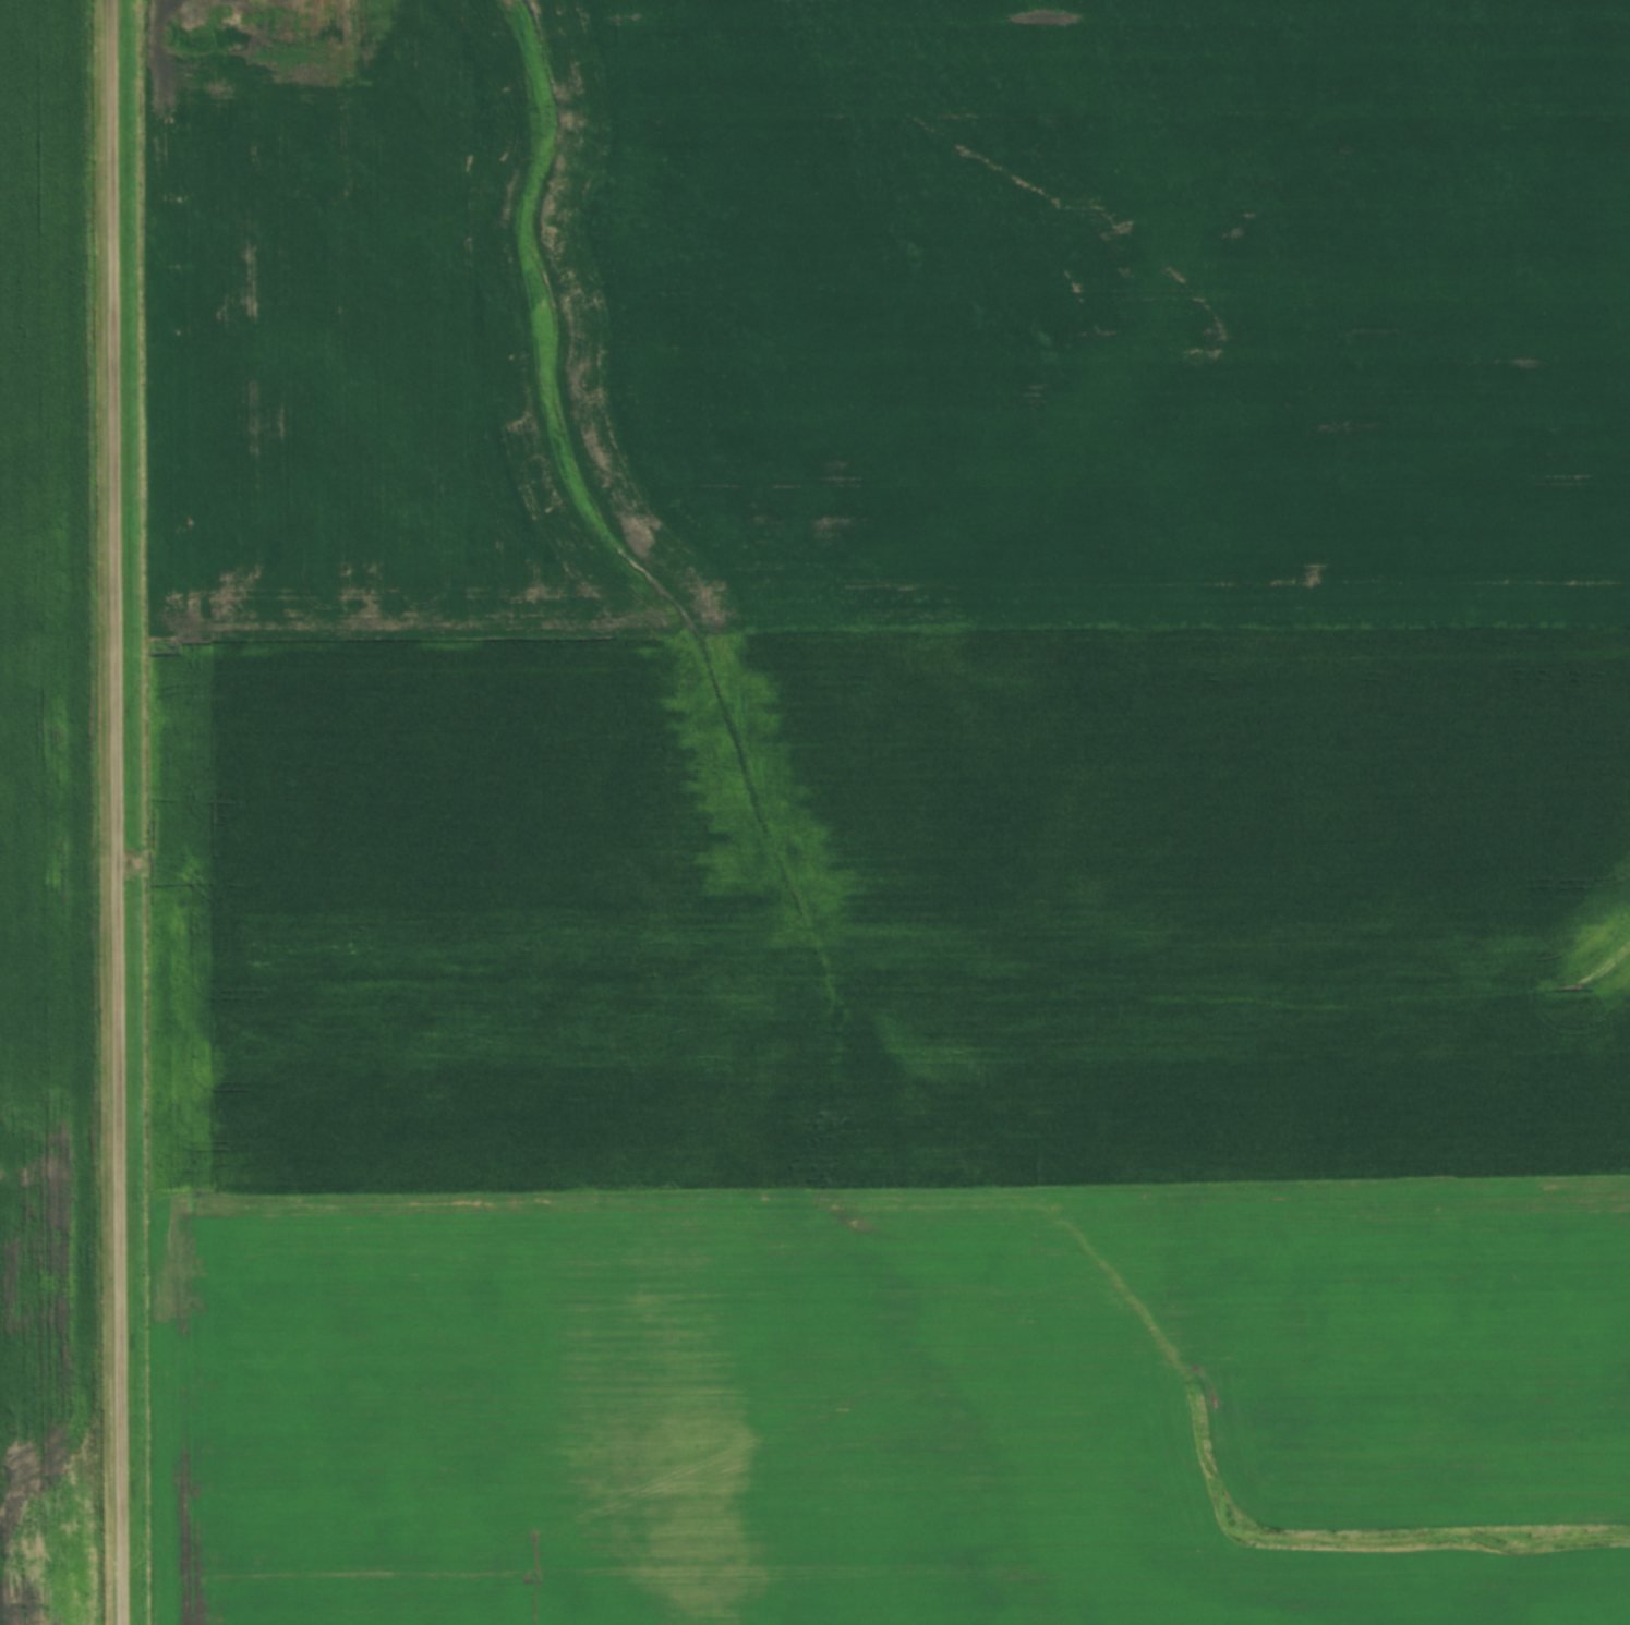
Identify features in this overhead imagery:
road: (113, 812)

